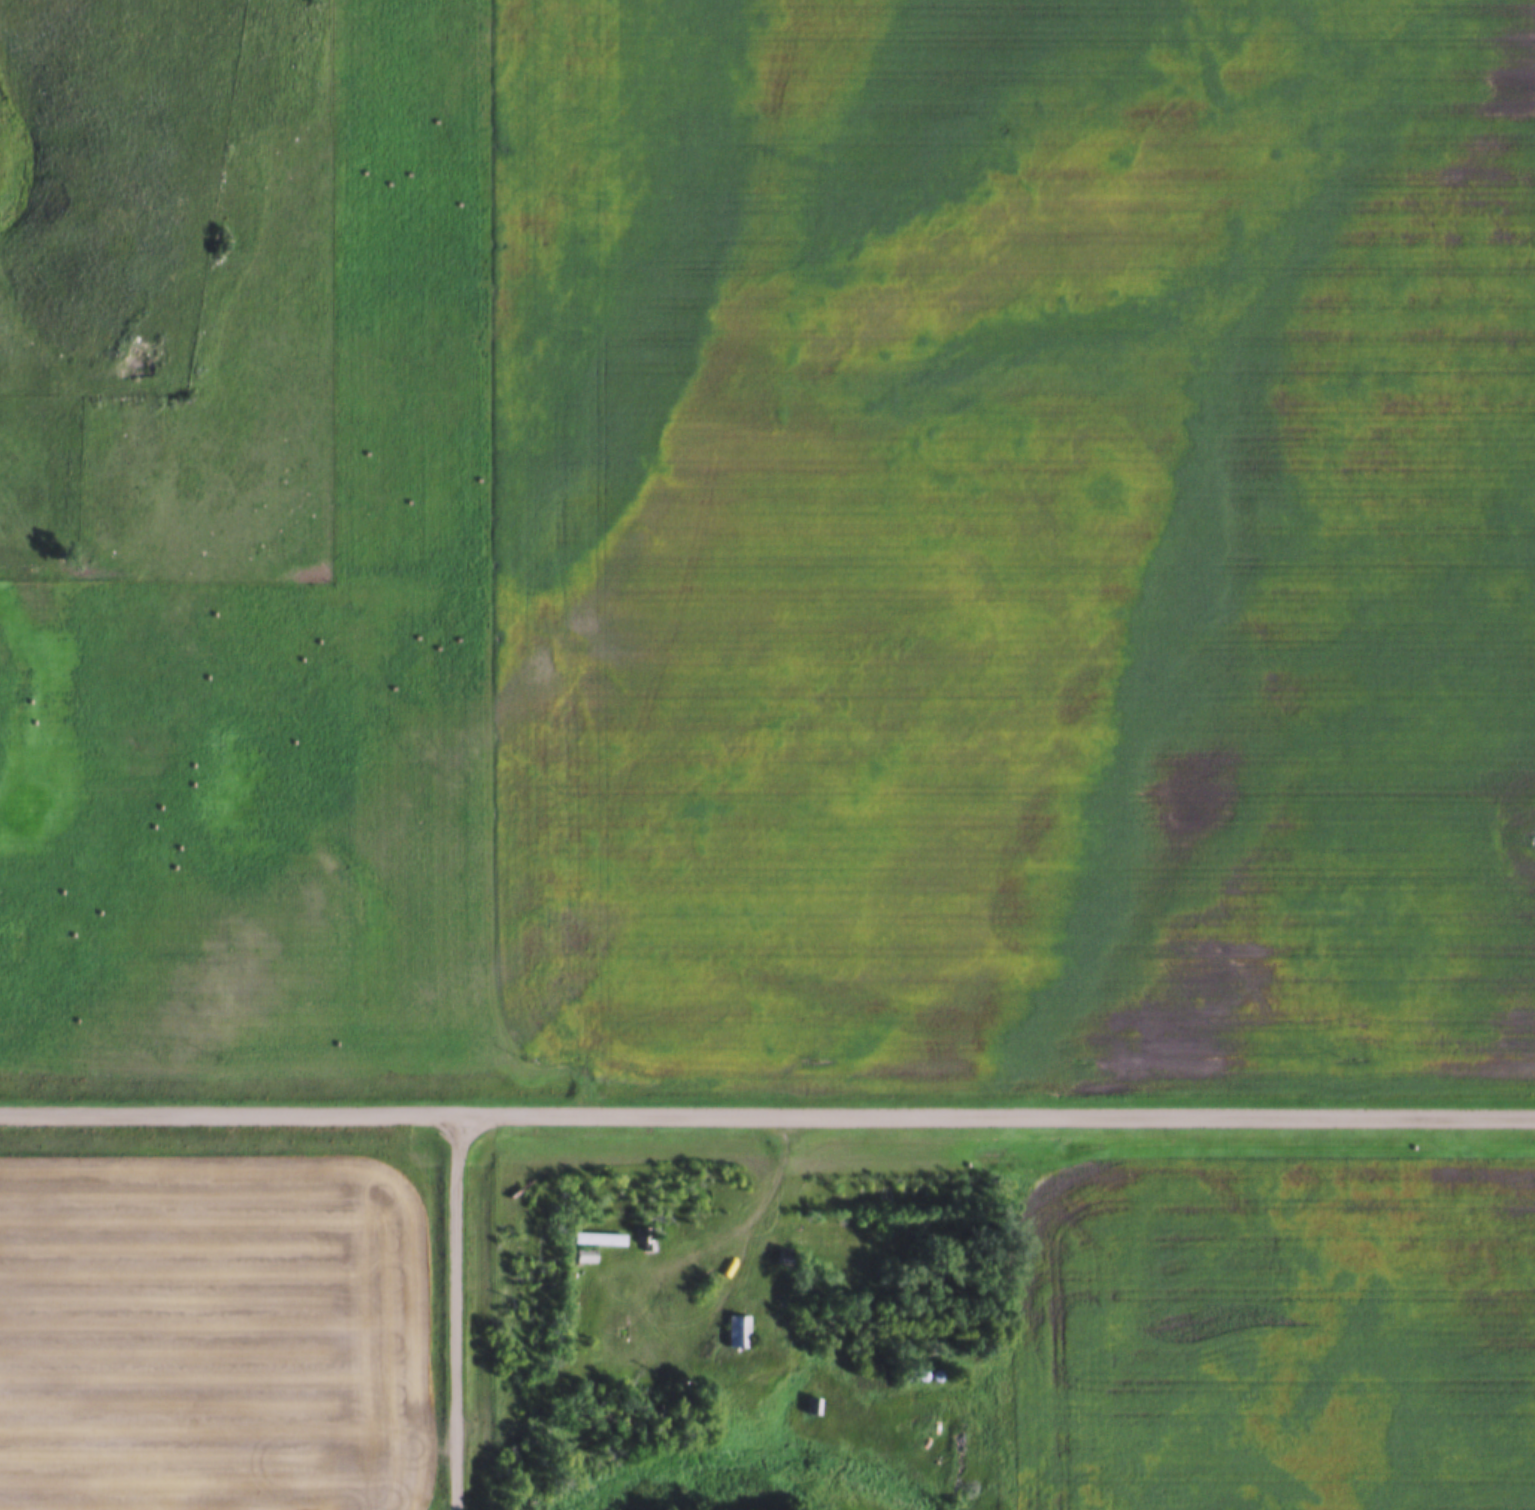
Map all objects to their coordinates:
road: (767, 1112)
road: (731, 1234)
building: (600, 1239)
building: (586, 1256)
road: (453, 1310)
building: (738, 1331)
building: (815, 1406)

